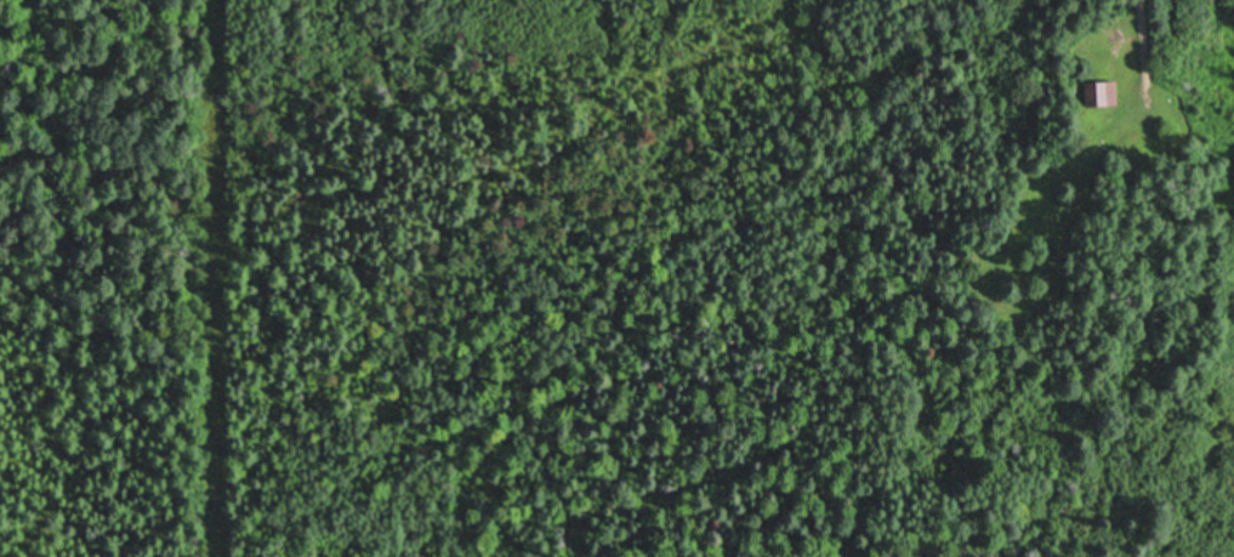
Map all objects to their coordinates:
building: (1099, 95)

